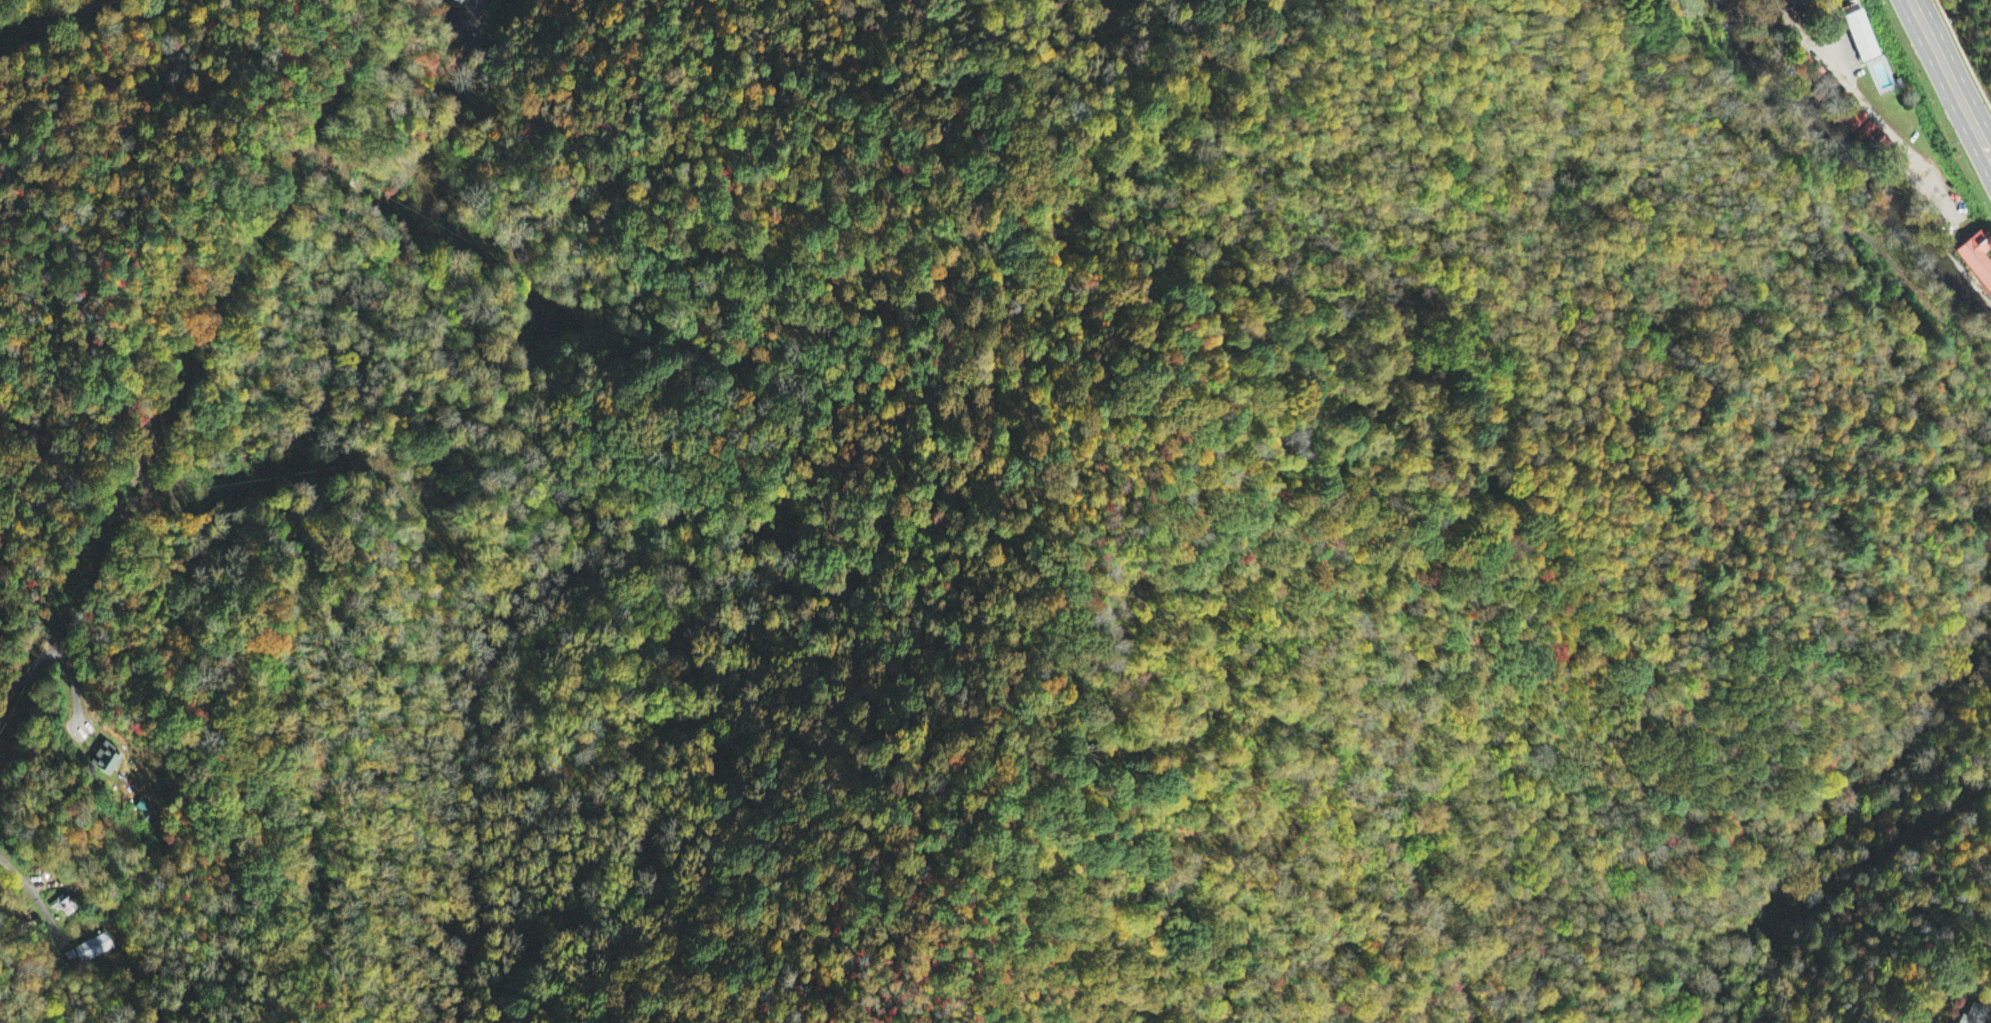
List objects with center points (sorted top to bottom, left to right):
building: (472, 8)
building: (1861, 42)
road: (1952, 77)
road: (1875, 119)
building: (1864, 132)
building: (105, 760)
building: (68, 907)
building: (94, 949)
building: (1985, 1022)

